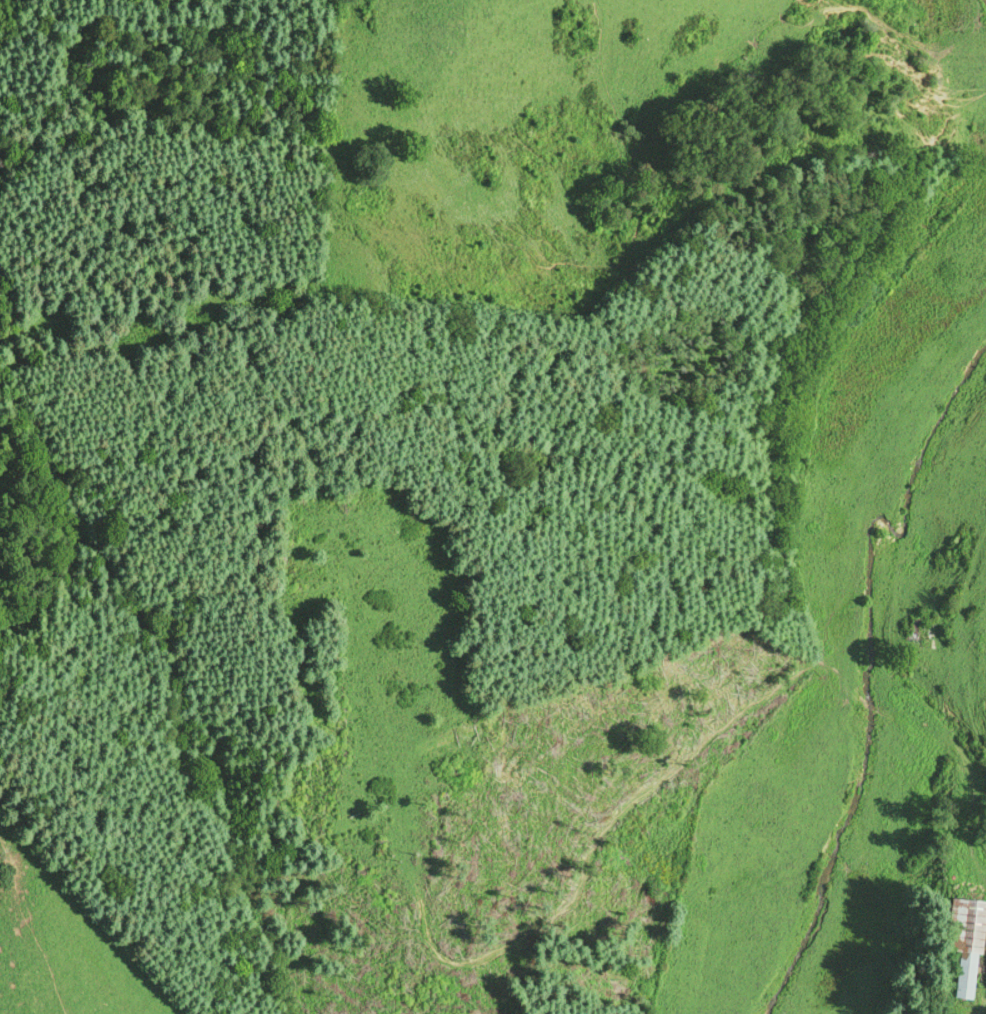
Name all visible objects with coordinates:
building: (918, 630)
building: (443, 764)
building: (962, 939)

